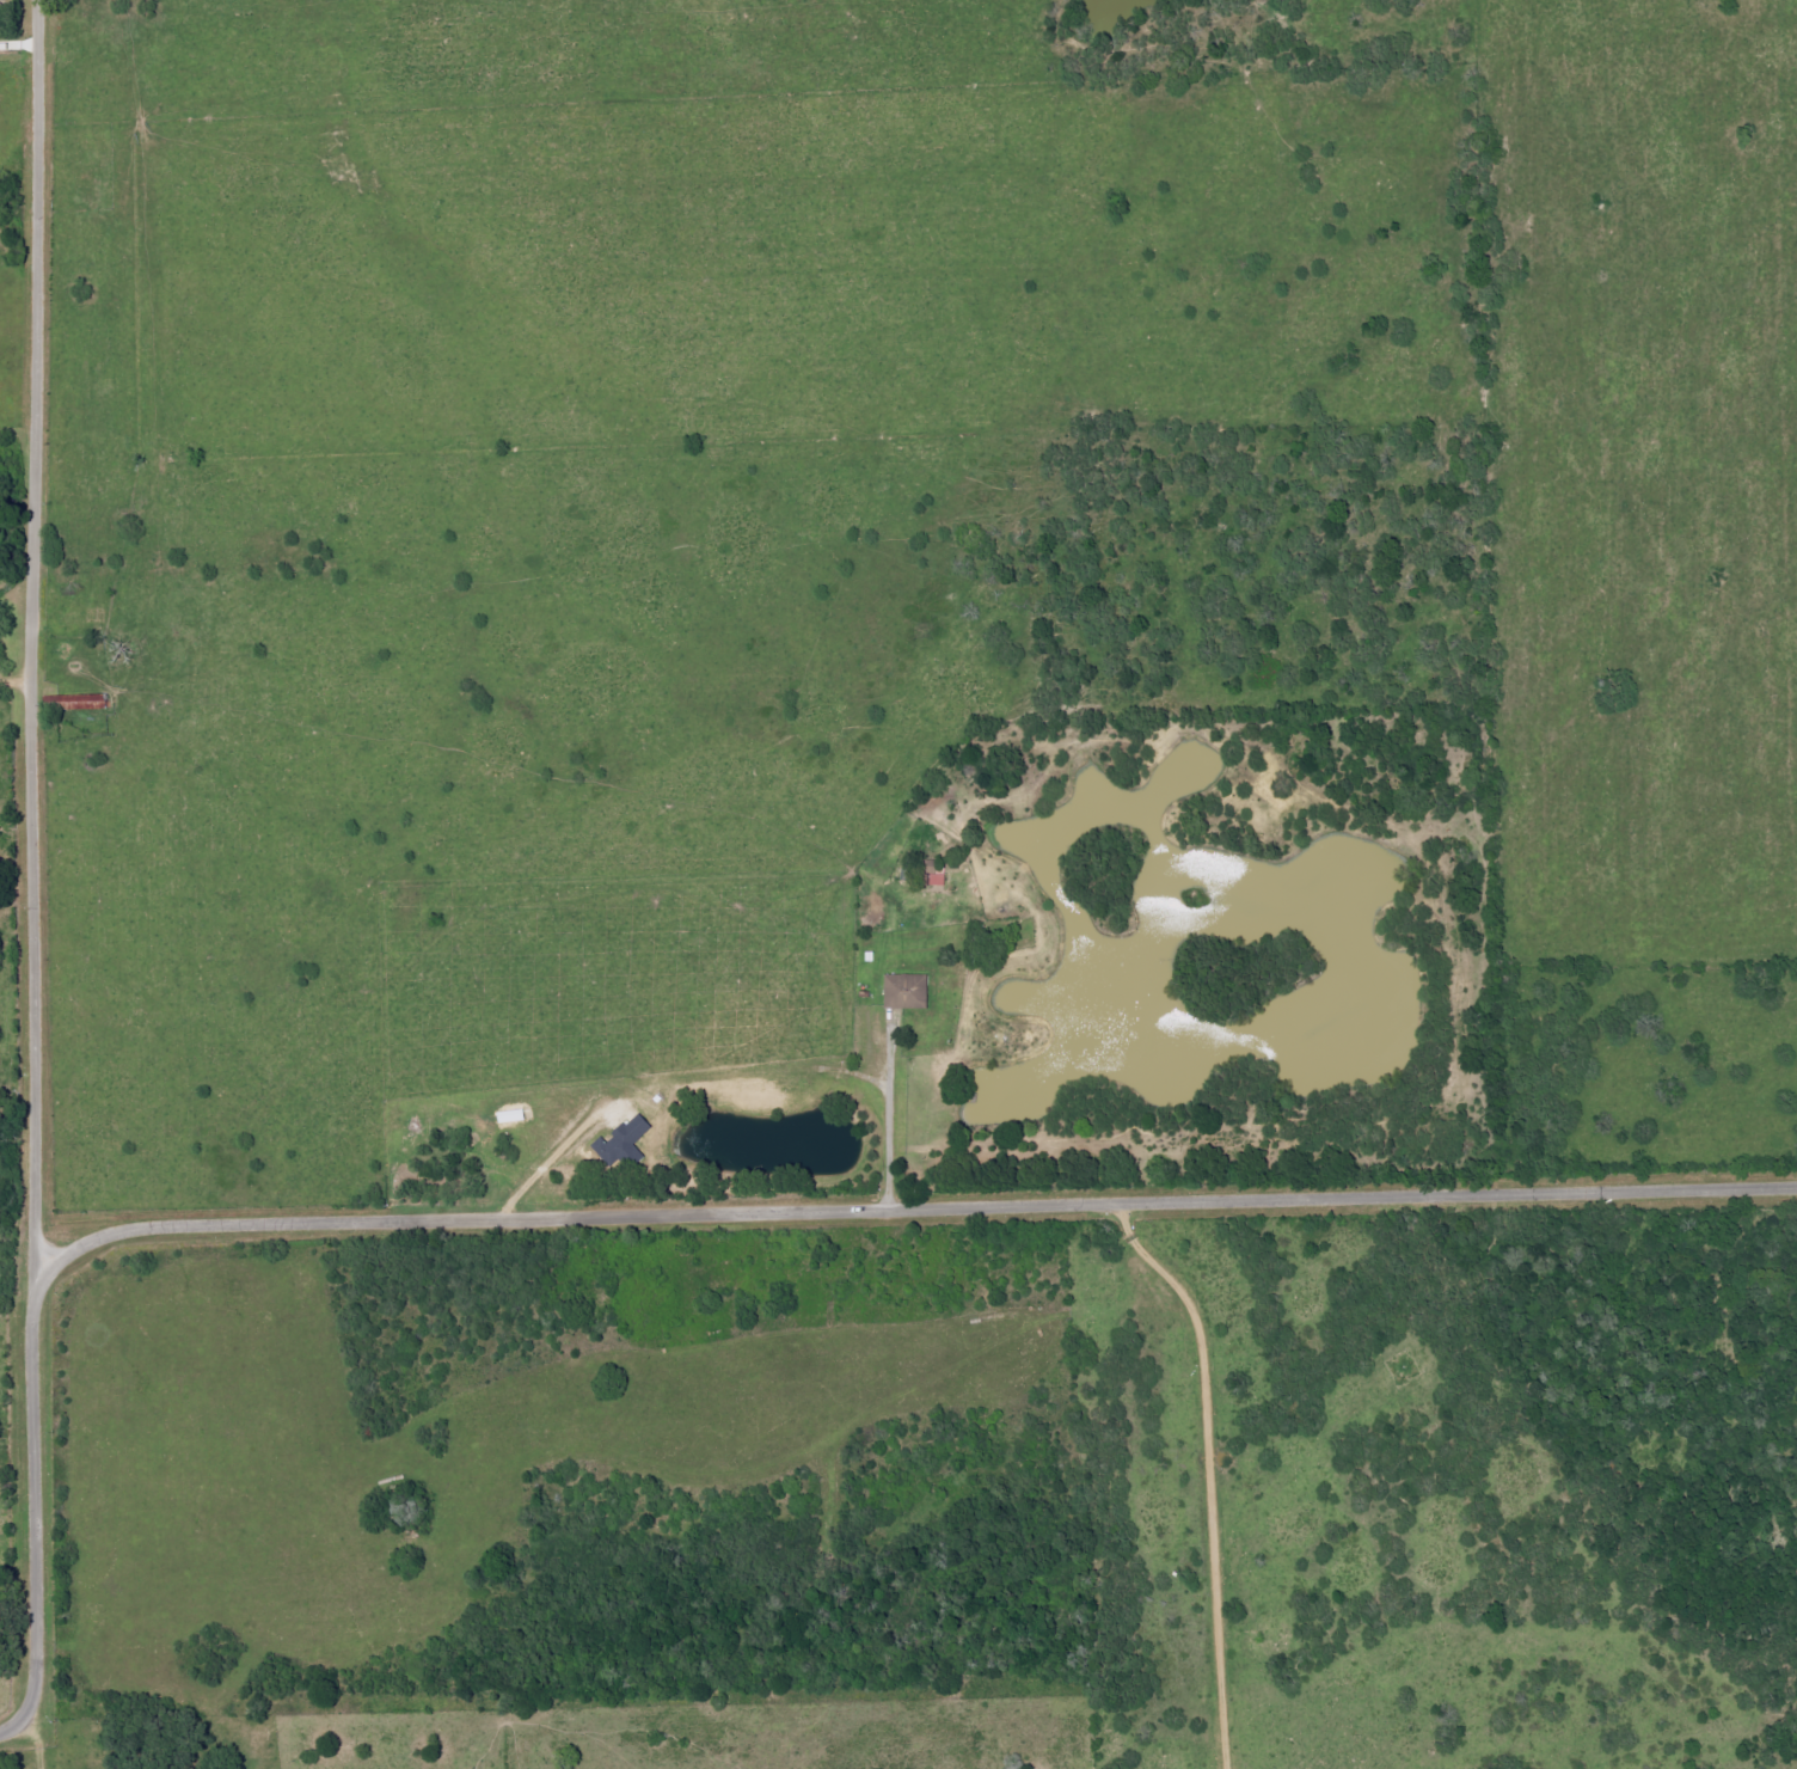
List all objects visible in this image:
road: (14, 682)
building: (76, 702)
road: (27, 873)
building: (908, 992)
building: (514, 1118)
road: (889, 1119)
building: (613, 1145)
road: (551, 1163)
road: (894, 1207)
road: (1212, 1473)

